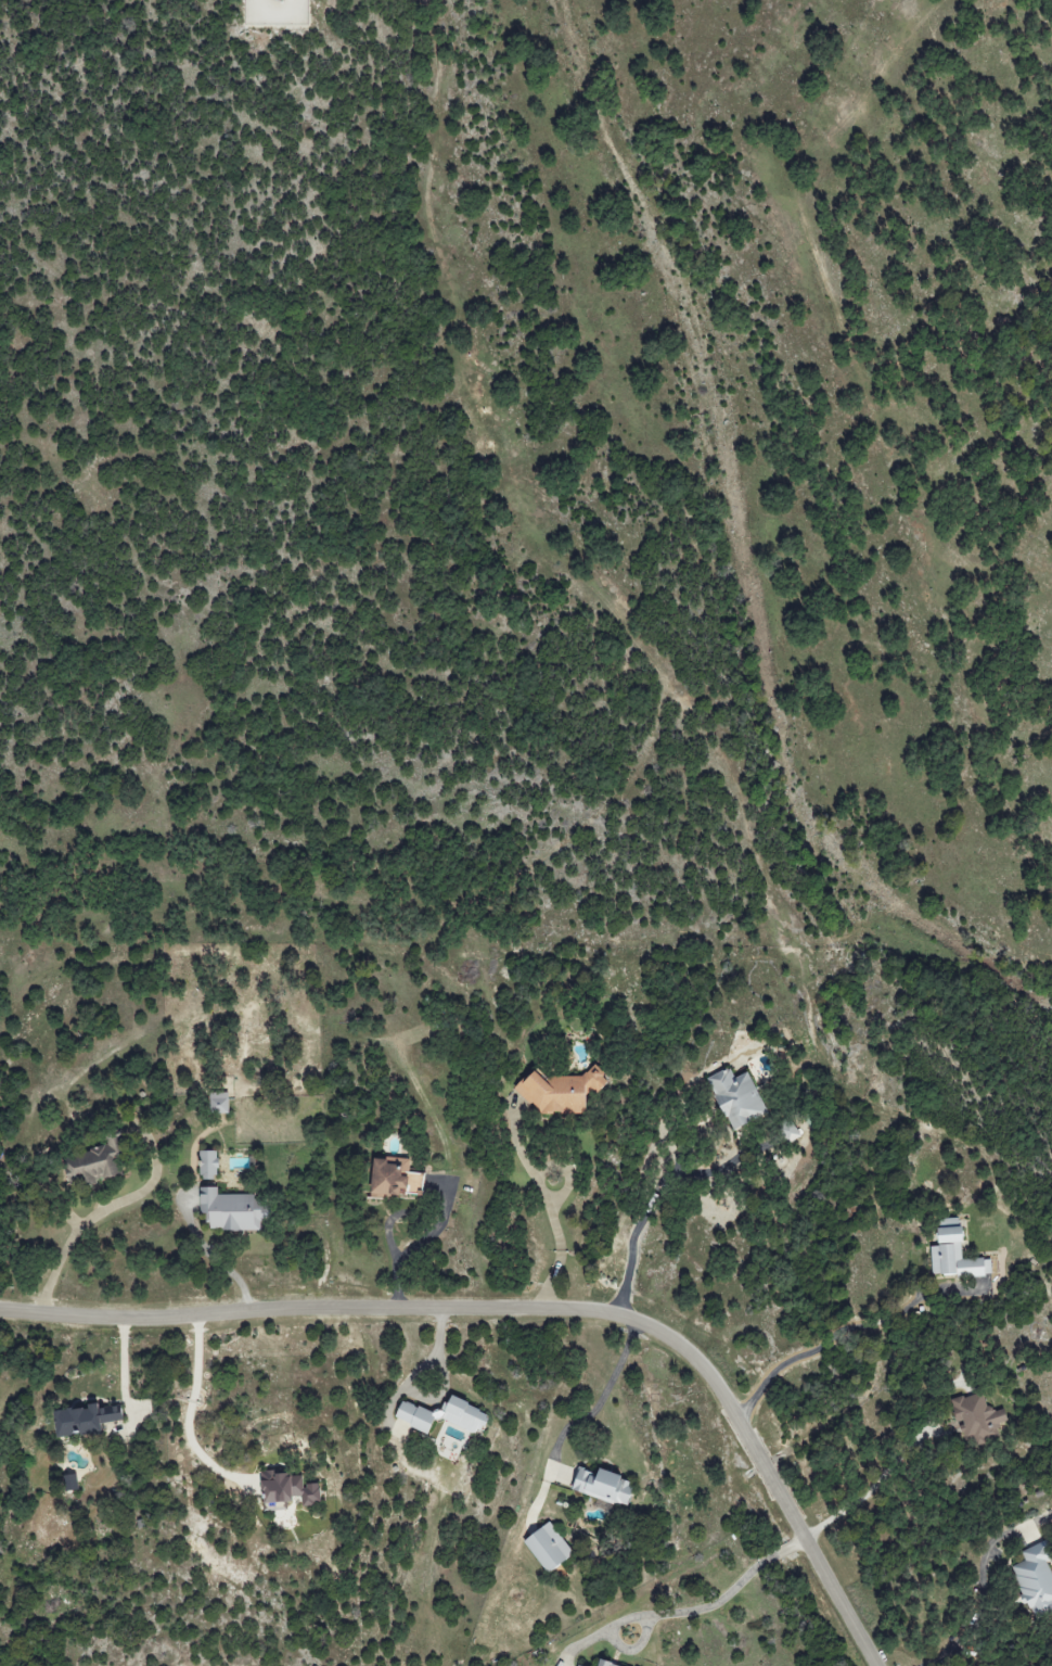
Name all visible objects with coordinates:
building: (277, 12)
building: (561, 1091)
building: (737, 1097)
building: (219, 1102)
building: (790, 1131)
building: (95, 1162)
building: (208, 1165)
building: (394, 1178)
road: (653, 1203)
road: (548, 1209)
building: (231, 1210)
building: (949, 1230)
road: (409, 1246)
road: (62, 1258)
road: (215, 1262)
building: (958, 1262)
road: (530, 1312)
road: (822, 1346)
road: (123, 1369)
road: (602, 1395)
road: (191, 1407)
building: (442, 1415)
building: (977, 1416)
building: (86, 1419)
building: (70, 1481)
building: (603, 1486)
building: (288, 1488)
road: (870, 1489)
building: (548, 1547)
building: (1036, 1578)
road: (676, 1612)
road: (947, 1653)
building: (605, 1664)
building: (578, 1665)

